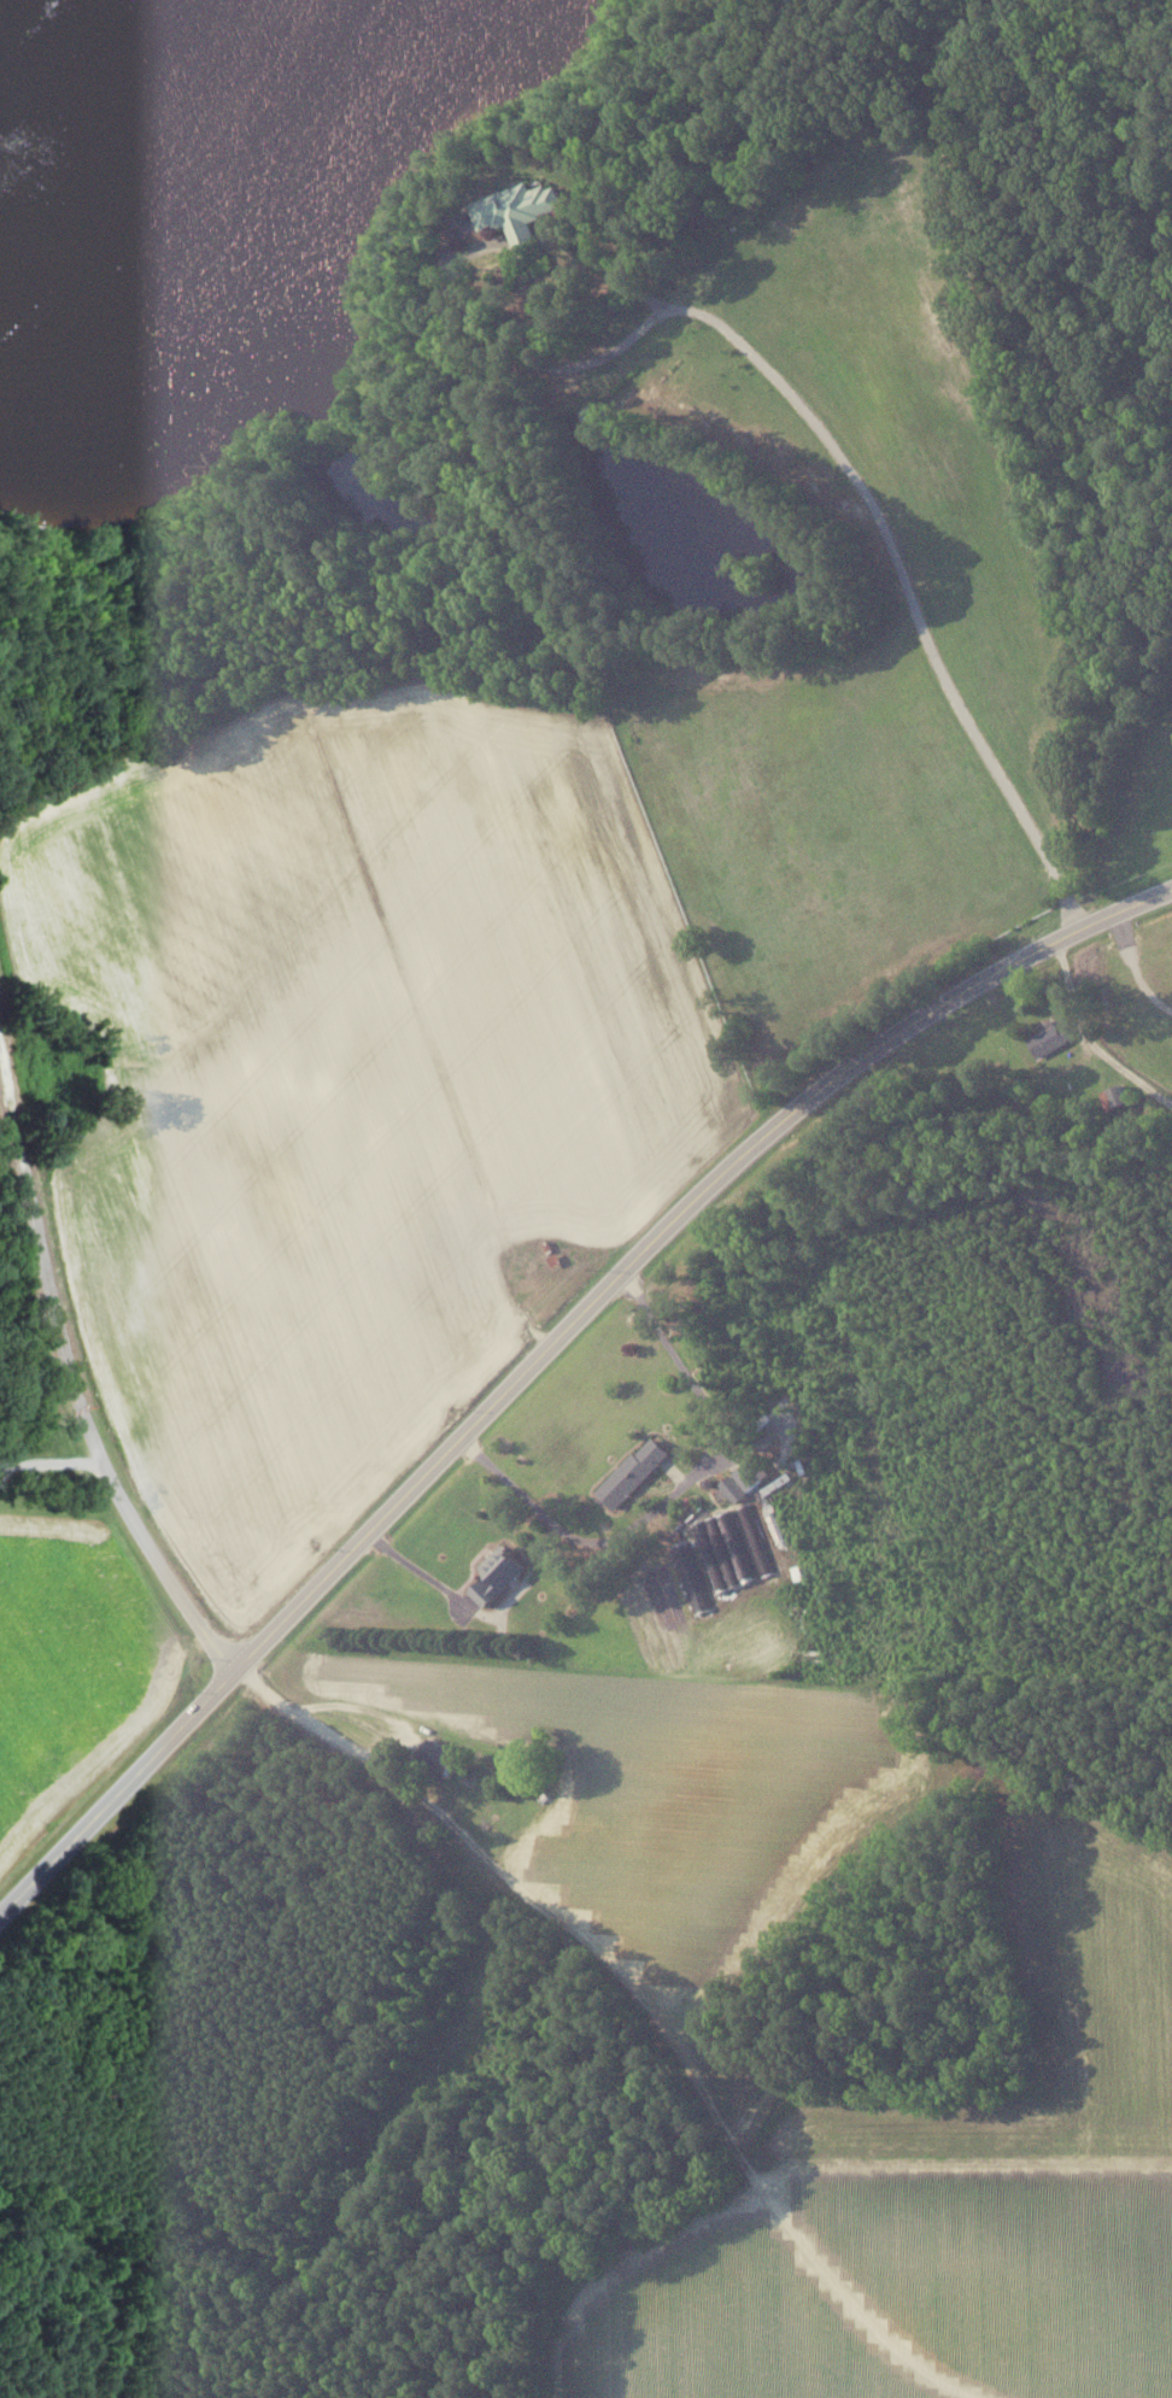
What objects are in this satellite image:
building: (520, 209)
road: (763, 365)
road: (1133, 967)
building: (1050, 1037)
road: (1090, 1038)
crop: (350, 1080)
building: (1115, 1096)
building: (556, 1259)
road: (546, 1350)
road: (70, 1380)
road: (49, 1465)
building: (632, 1472)
building: (754, 1472)
building: (733, 1488)
road: (674, 1493)
building: (777, 1526)
building: (756, 1537)
building: (738, 1544)
building: (726, 1550)
building: (713, 1555)
road: (418, 1571)
building: (500, 1572)
building: (692, 1576)
crop: (72, 1666)
road: (303, 1711)
road: (383, 1724)
building: (439, 1755)
crop: (674, 1792)
road: (487, 1966)
road: (692, 2063)
crop: (1027, 2146)
crop: (726, 2322)

